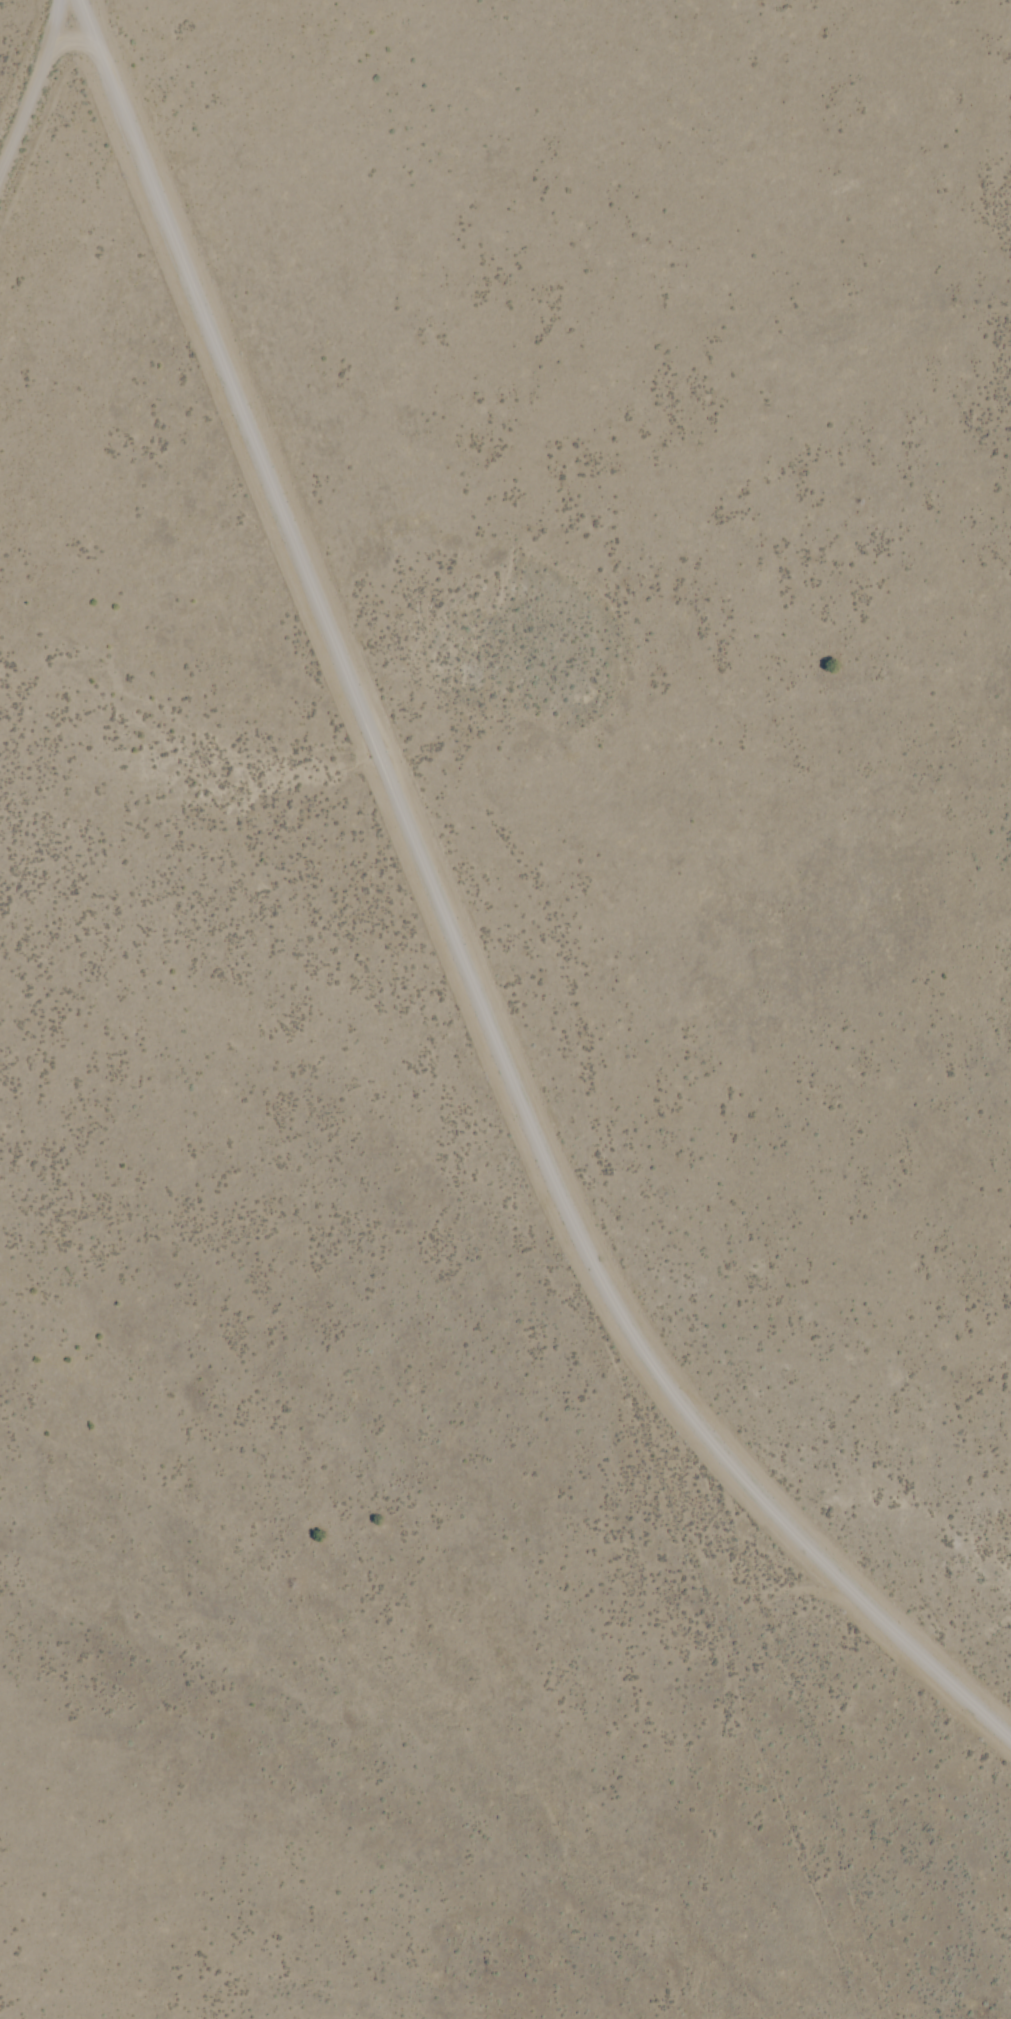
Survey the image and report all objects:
road: (33, 81)
road: (450, 932)

